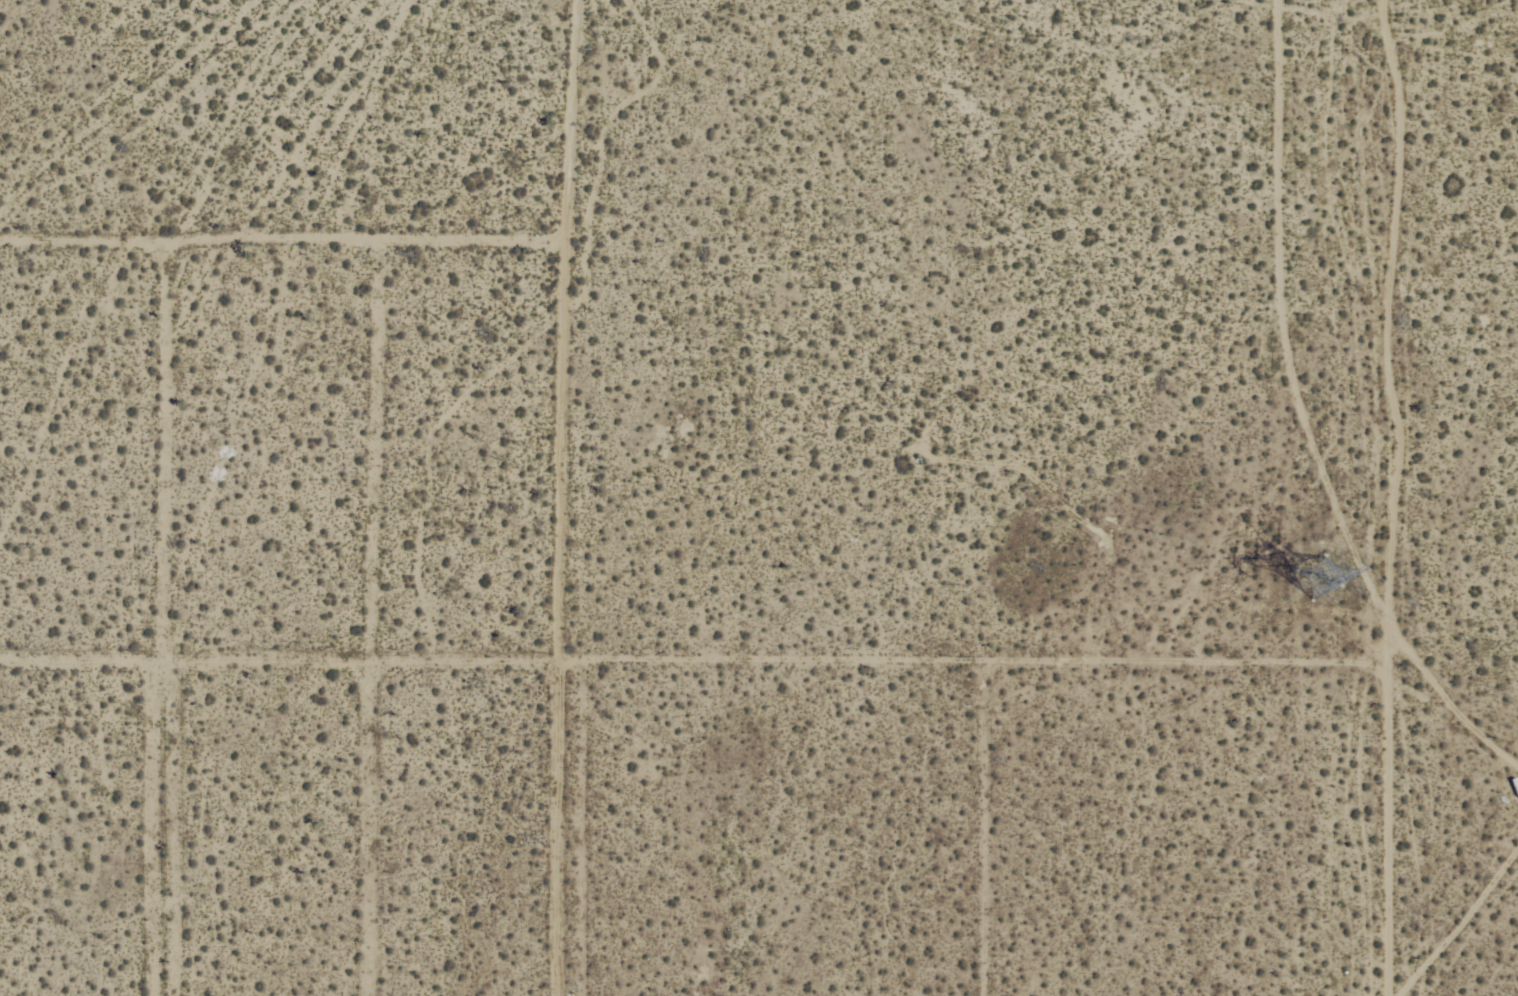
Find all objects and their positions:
road: (278, 181)
road: (1429, 497)
power tower: (1310, 574)
road: (193, 588)
road: (394, 588)
road: (716, 618)

